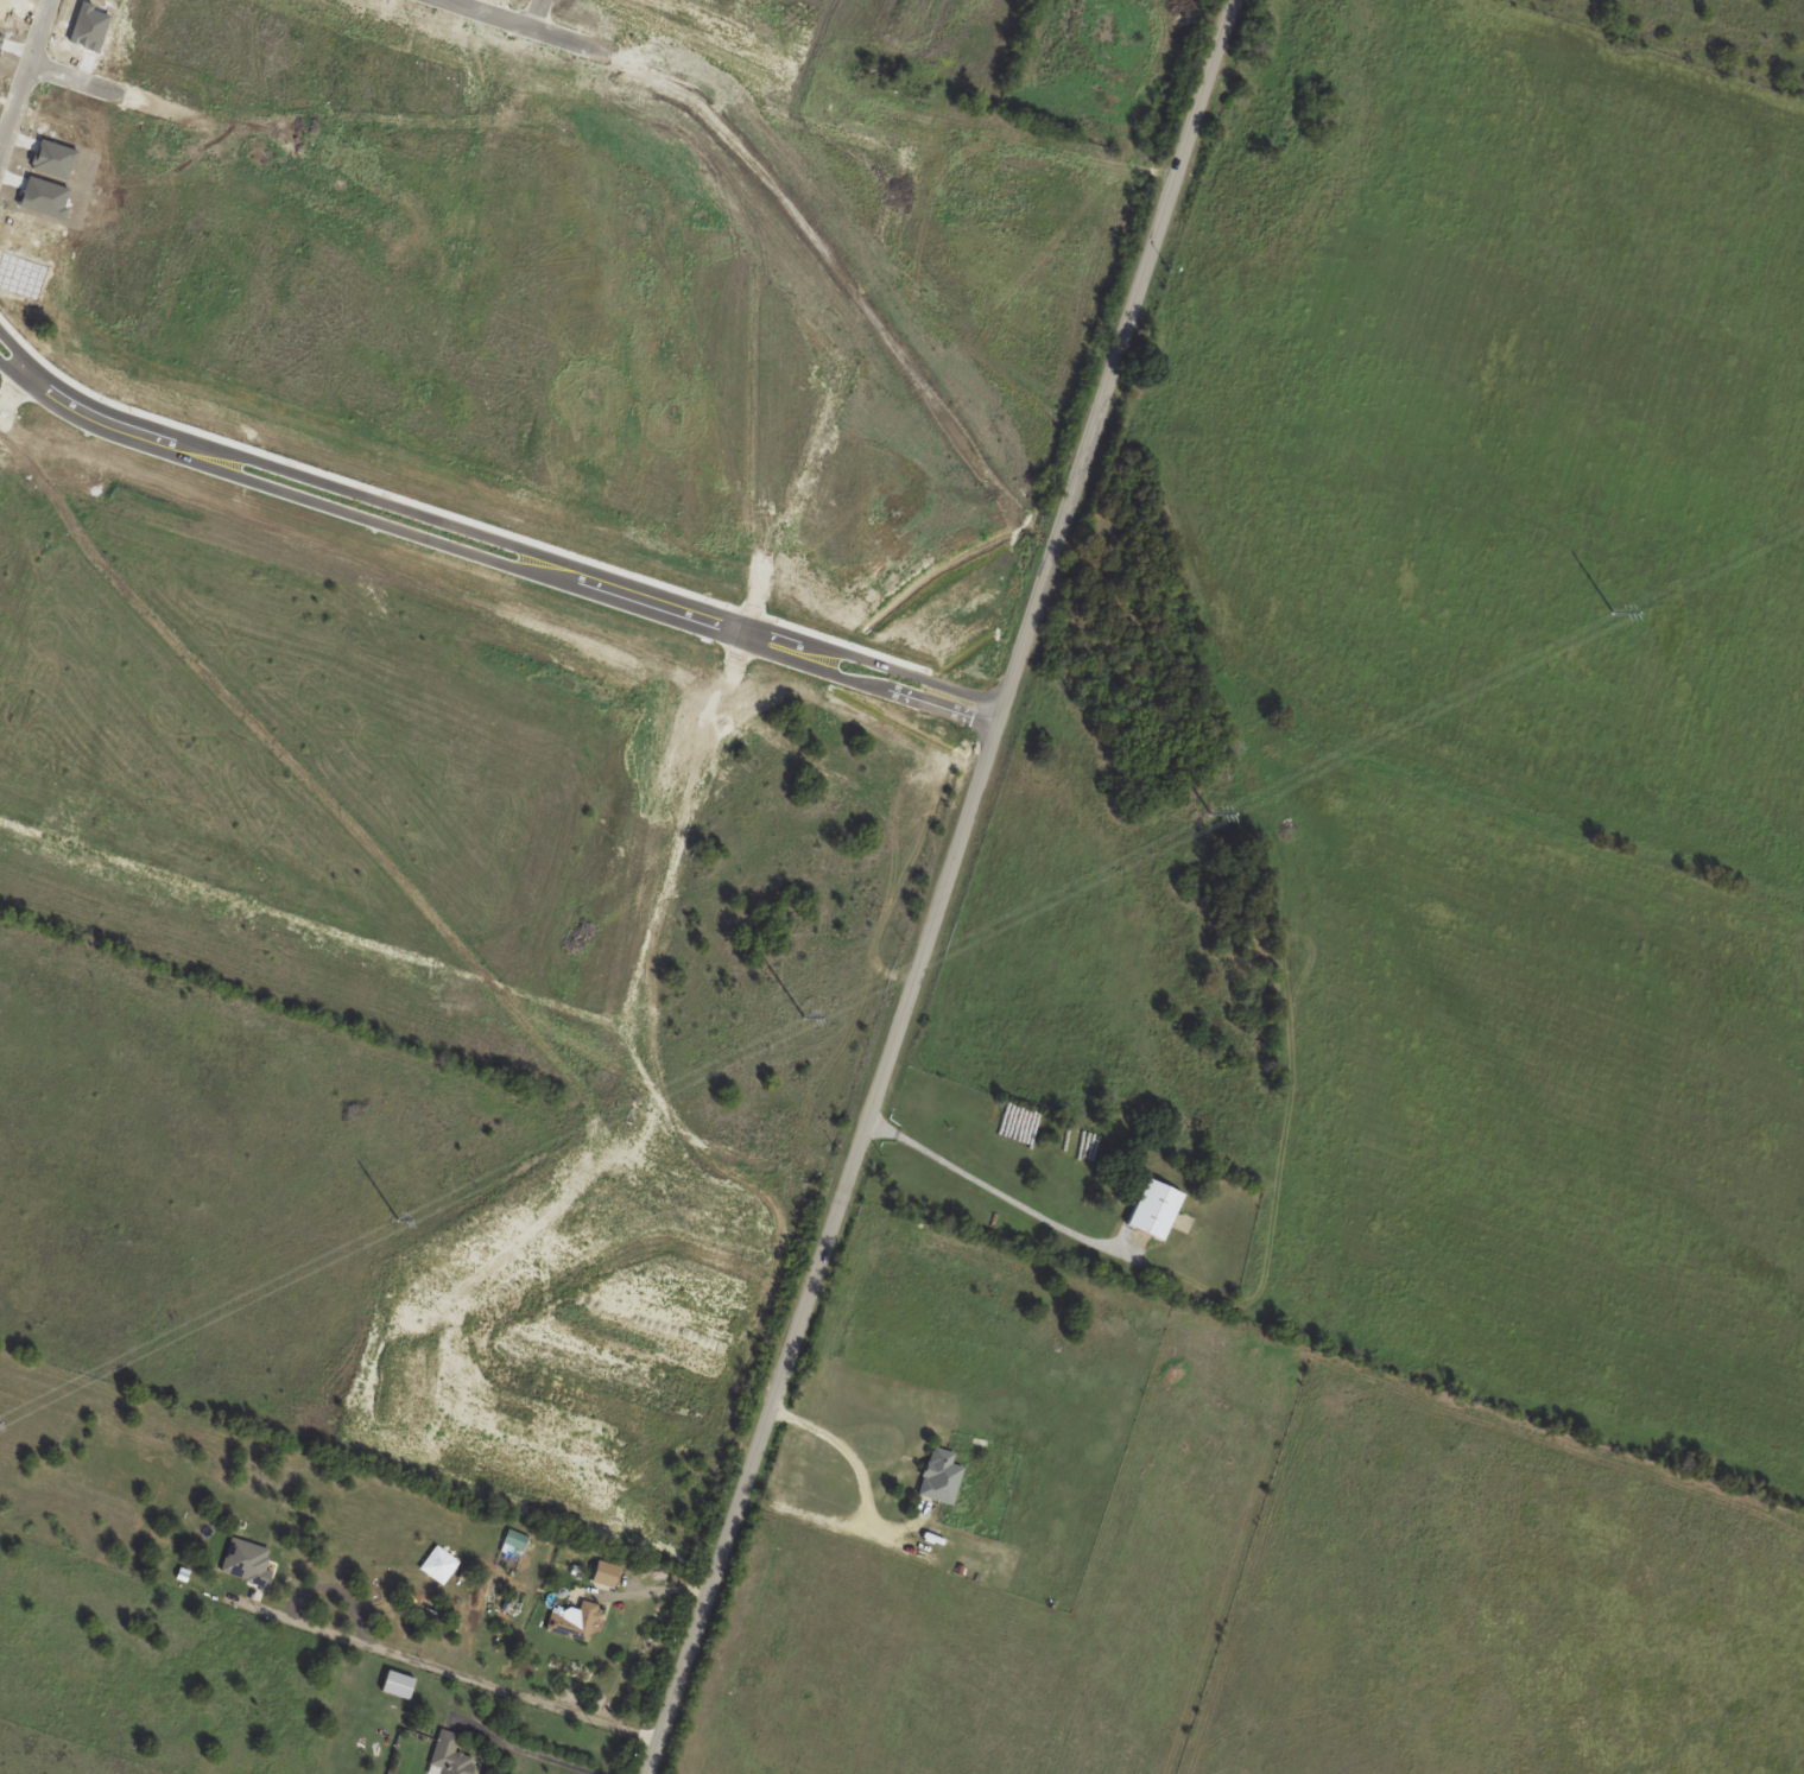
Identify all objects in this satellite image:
road: (537, 14)
road: (622, 58)
road: (23, 71)
road: (113, 95)
road: (10, 398)
road: (490, 550)
power tower: (1615, 613)
power tower: (1216, 815)
road: (19, 824)
road: (943, 886)
power tower: (809, 1019)
road: (995, 1191)
building: (1154, 1210)
power tower: (401, 1221)
building: (941, 1477)
road: (881, 1506)
building: (606, 1573)
road: (654, 1590)
building: (576, 1622)
road: (463, 1674)
building: (399, 1685)
road: (526, 1751)
building: (451, 1756)

